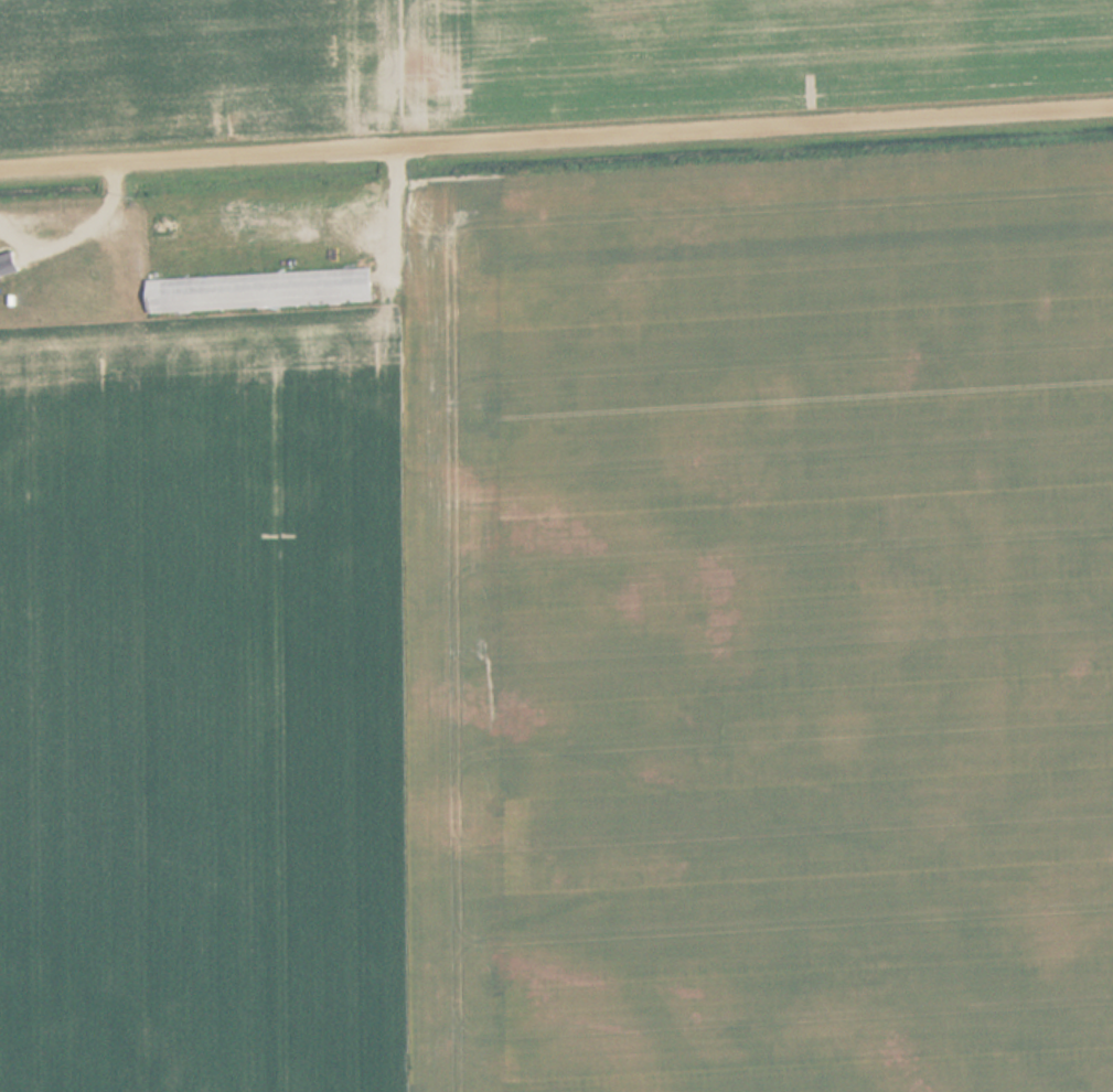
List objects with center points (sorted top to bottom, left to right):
road: (556, 138)
building: (2, 270)
building: (264, 290)

